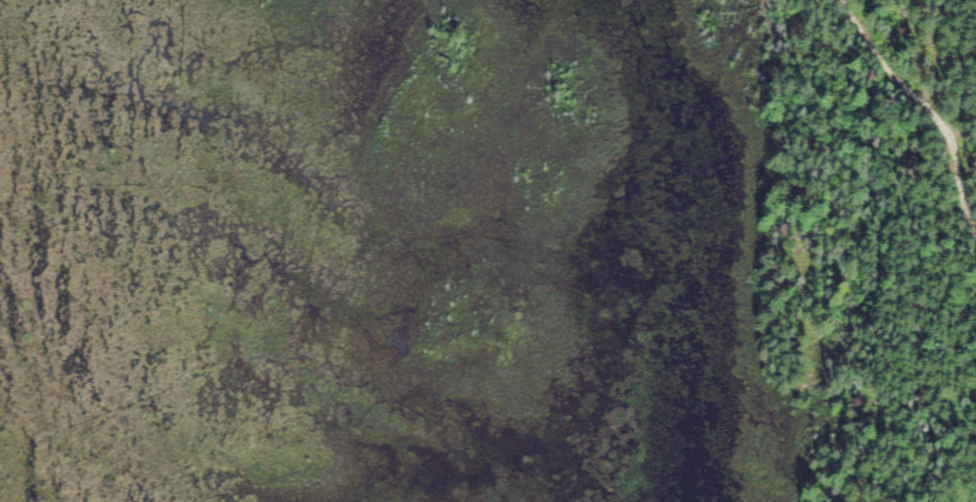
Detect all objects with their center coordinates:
road: (927, 106)

